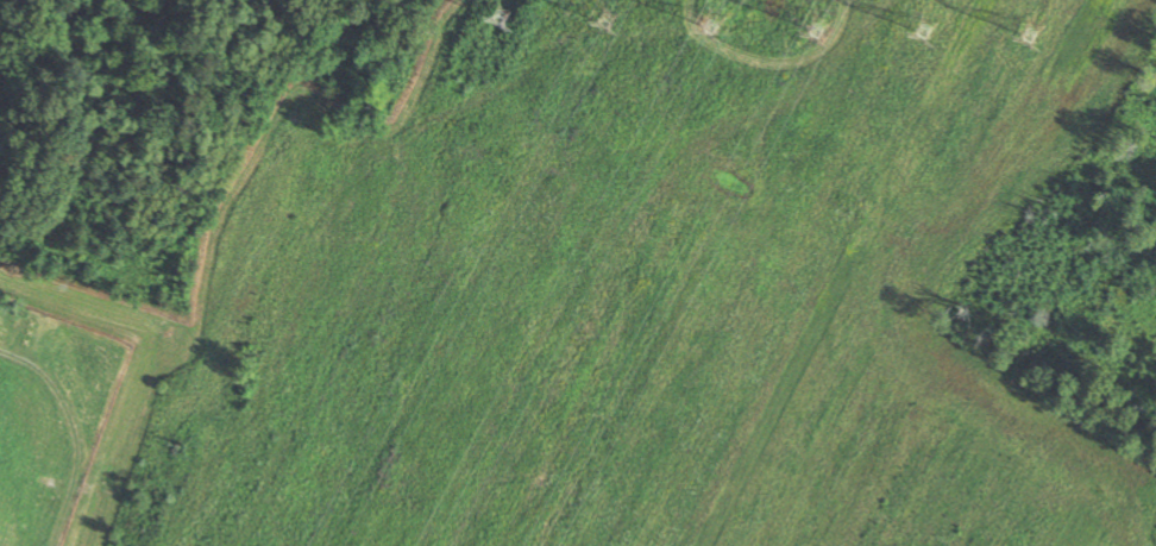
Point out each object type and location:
power tower: (500, 11)
power tower: (604, 18)
power tower: (709, 20)
power tower: (817, 23)
power tower: (1025, 27)
power tower: (924, 51)

